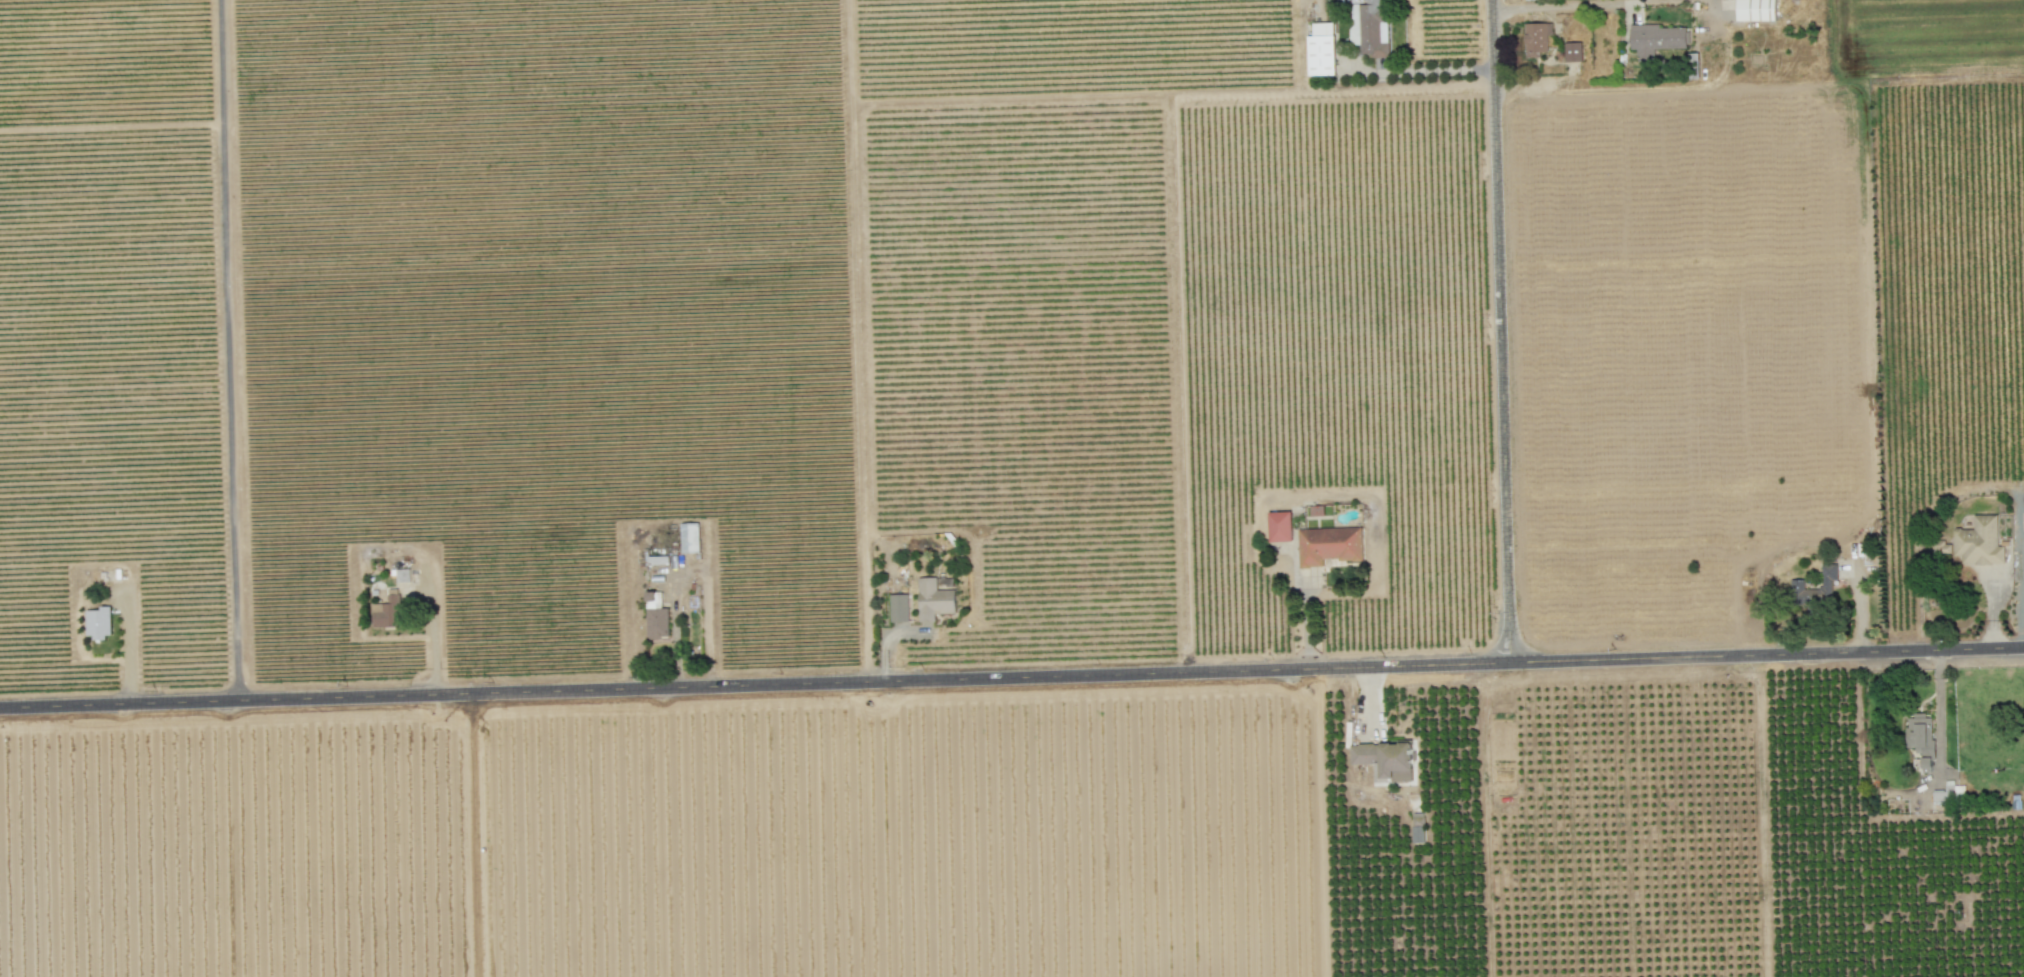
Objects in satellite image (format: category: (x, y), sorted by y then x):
road: (1562, 5)
building: (1756, 10)
building: (1355, 23)
building: (1372, 28)
building: (1536, 38)
building: (1656, 38)
building: (1321, 49)
building: (1572, 51)
road: (1431, 71)
road: (1174, 101)
road: (1506, 327)
road: (861, 340)
road: (225, 347)
road: (1182, 386)
building: (1280, 526)
building: (689, 537)
building: (1978, 541)
building: (1328, 544)
building: (402, 574)
building: (1797, 583)
building: (933, 599)
building: (898, 607)
building: (386, 610)
building: (656, 616)
building: (98, 622)
road: (707, 625)
road: (1012, 676)
road: (1940, 704)
building: (1920, 736)
building: (1385, 759)
building: (1944, 793)
road: (471, 832)

